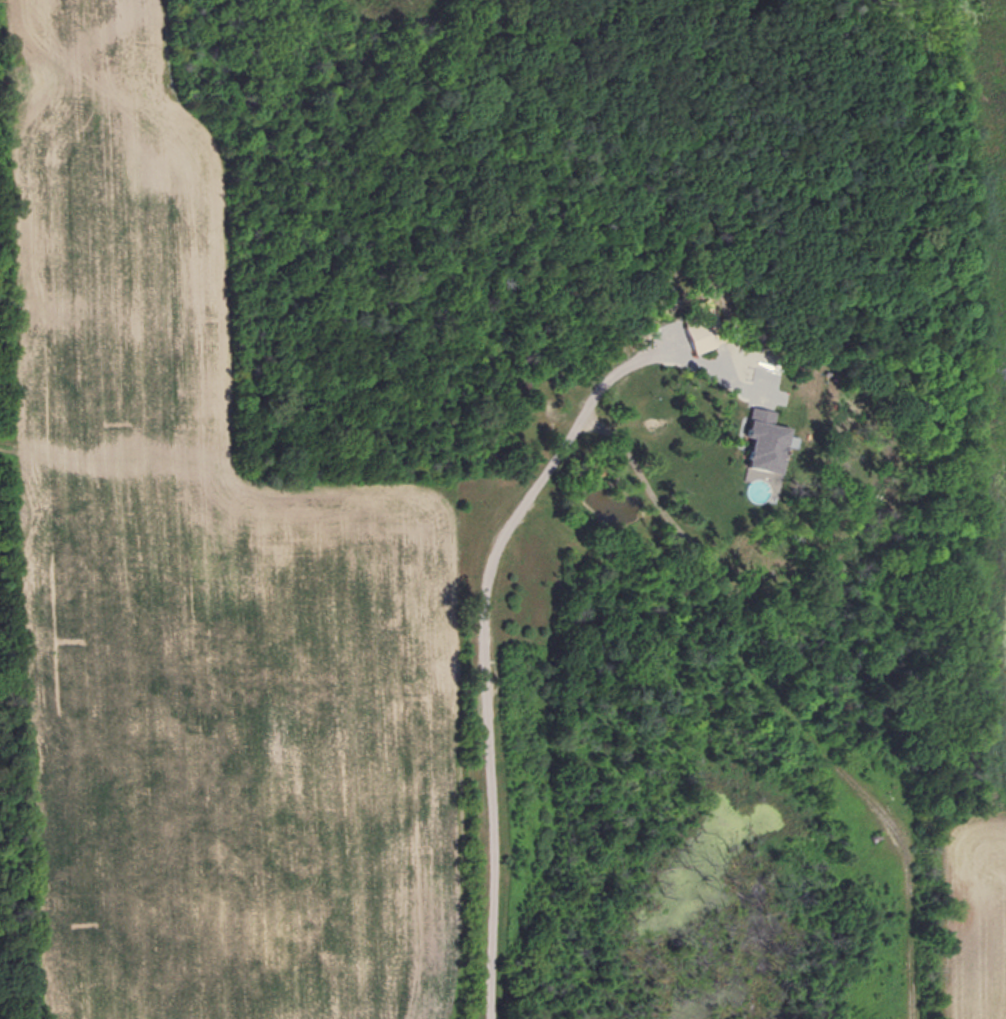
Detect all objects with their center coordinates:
building: (702, 334)
building: (767, 442)
road: (620, 446)

